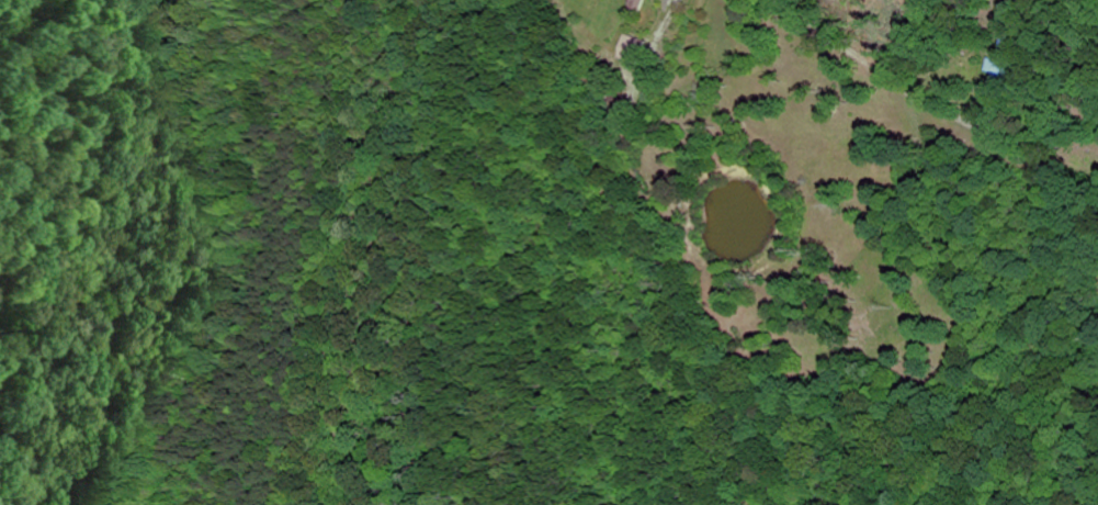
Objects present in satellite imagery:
building: (639, 4)
road: (861, 65)

